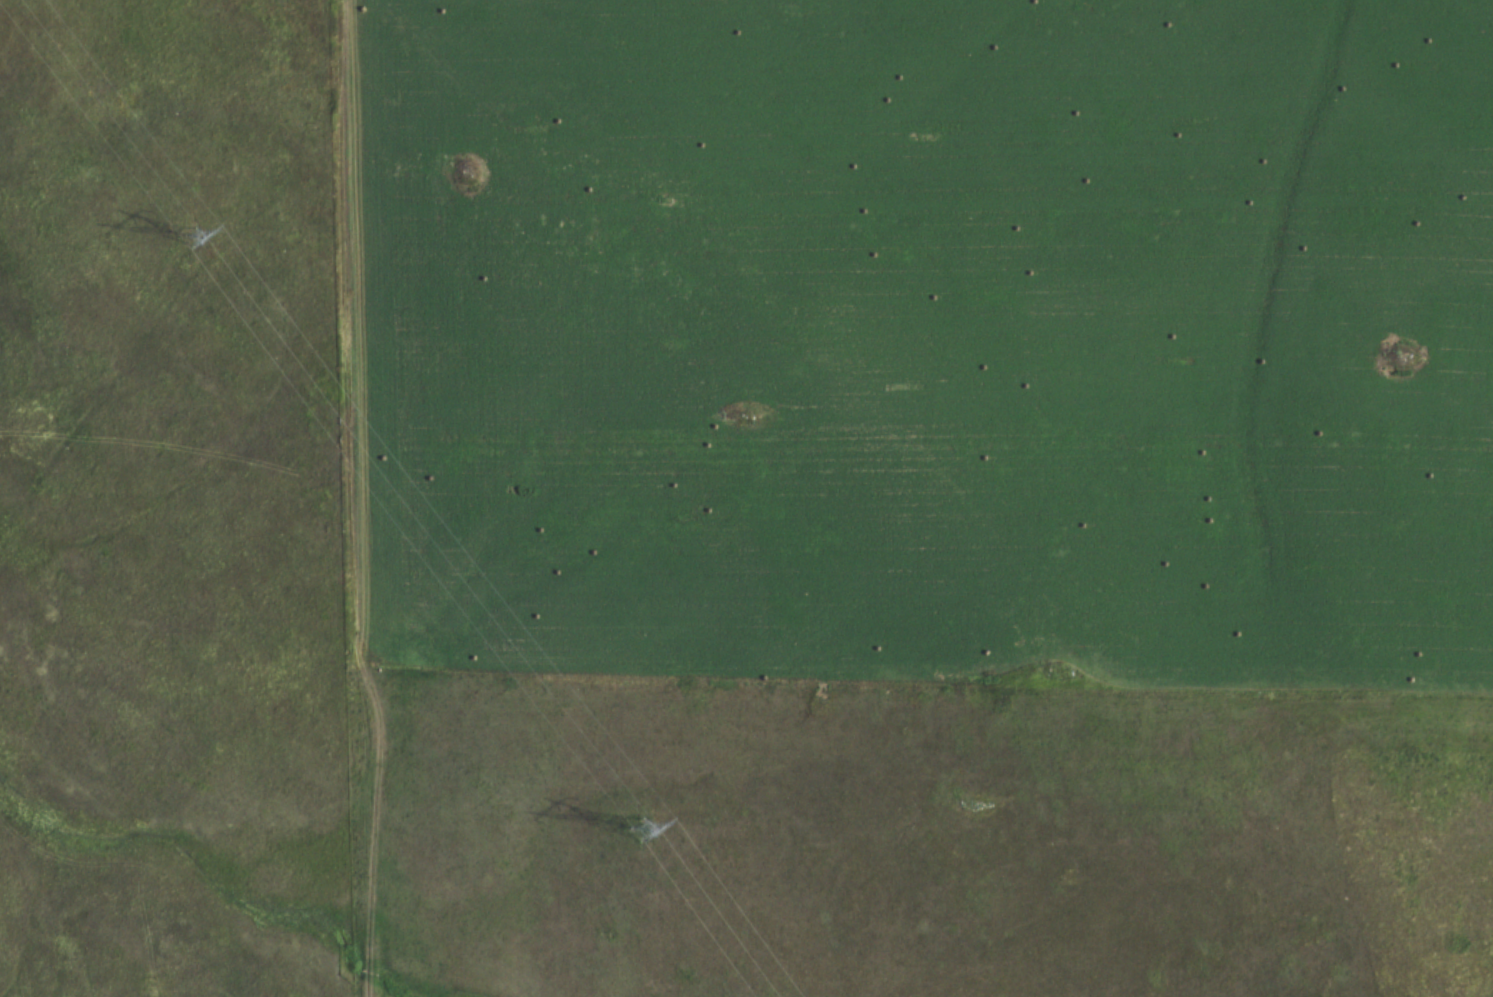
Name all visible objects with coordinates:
power tower: (187, 241)
power tower: (638, 832)

